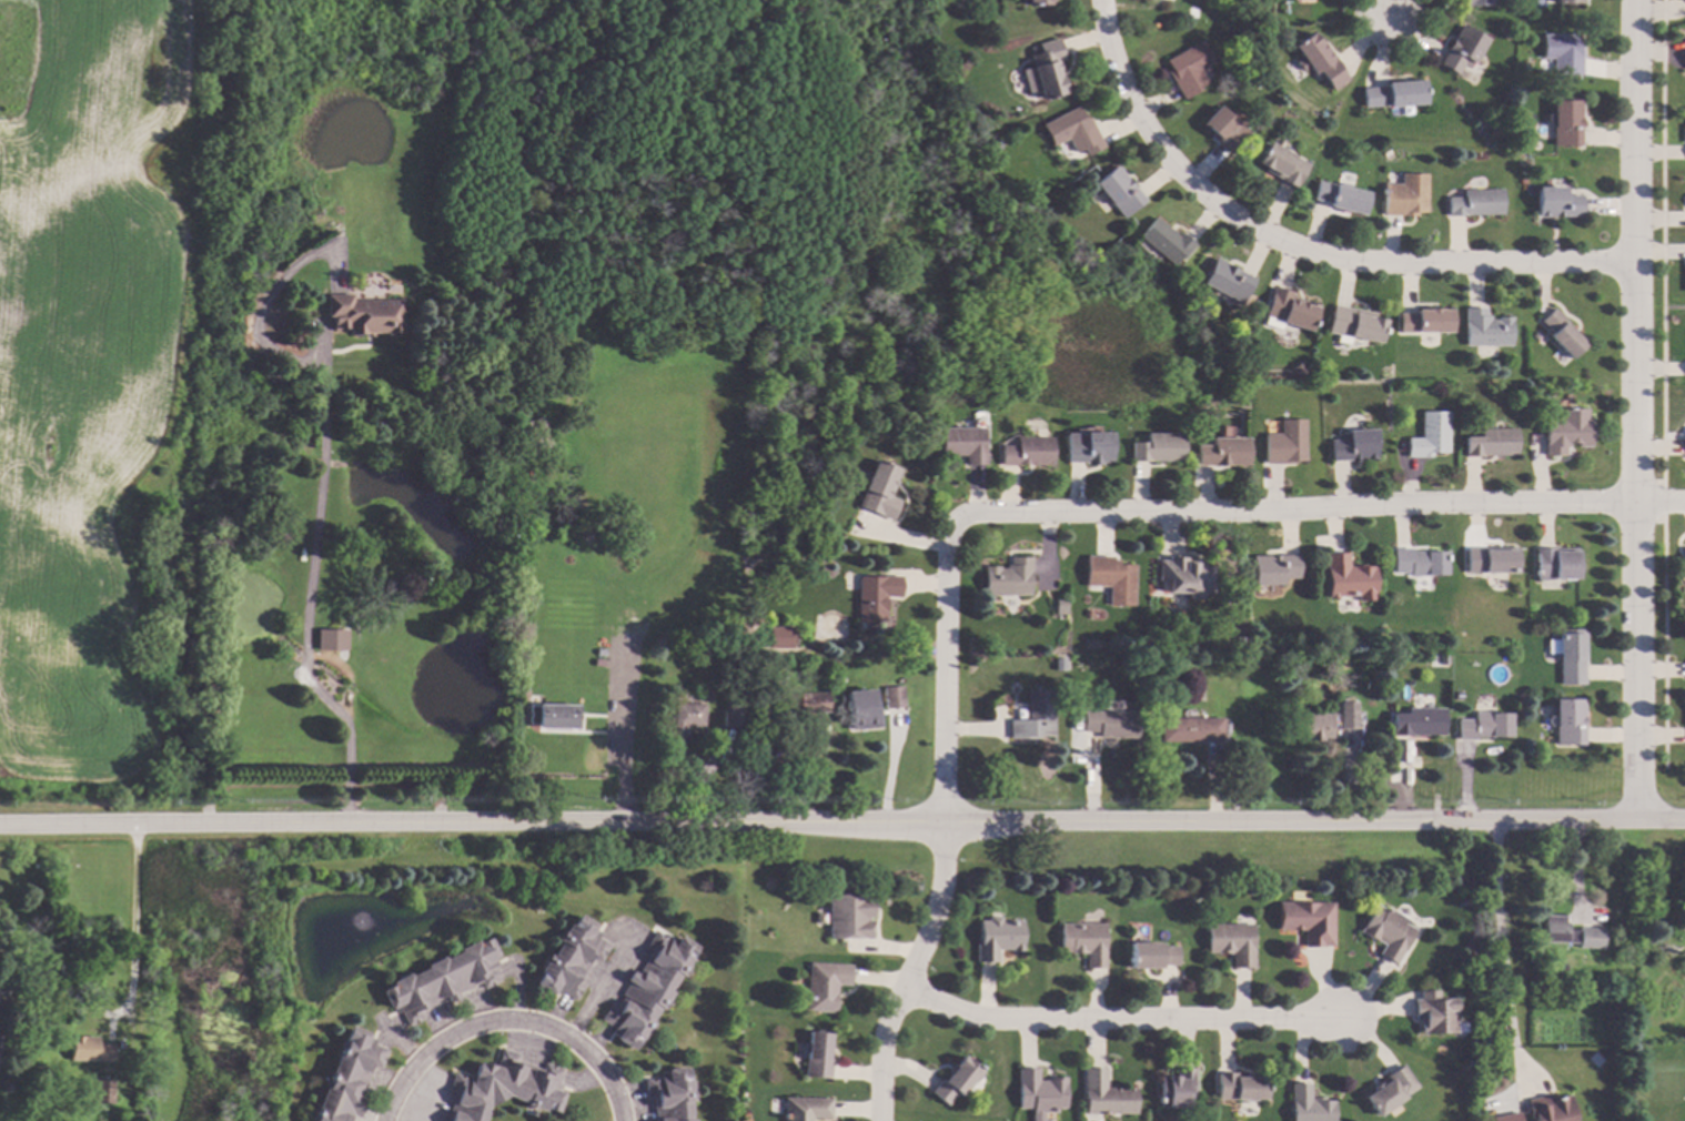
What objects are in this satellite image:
building: (1566, 1)
building: (1036, 2)
building: (1476, 2)
road: (1390, 14)
building: (1461, 49)
building: (1562, 52)
building: (1318, 61)
building: (1047, 69)
building: (1188, 69)
building: (1393, 94)
building: (1565, 122)
building: (1223, 129)
building: (1072, 131)
building: (1281, 165)
building: (1118, 191)
building: (1340, 196)
building: (1404, 196)
building: (1474, 202)
building: (1557, 203)
building: (1163, 241)
road: (1303, 246)
building: (1227, 281)
building: (1289, 310)
building: (363, 315)
building: (1424, 321)
building: (1353, 324)
building: (1485, 329)
building: (1561, 333)
building: (1298, 370)
crop: (82, 380)
road: (1638, 411)
building: (1566, 431)
building: (1429, 435)
building: (1284, 443)
building: (1492, 443)
building: (961, 444)
building: (1353, 445)
building: (1087, 447)
building: (1157, 448)
building: (1026, 452)
building: (1222, 453)
building: (879, 491)
road: (1661, 501)
road: (1299, 507)
building: (281, 537)
building: (1492, 560)
building: (1419, 562)
building: (1684, 563)
building: (1555, 564)
building: (1273, 569)
building: (1185, 576)
building: (1008, 578)
building: (1110, 578)
building: (1349, 578)
building: (874, 596)
building: (756, 598)
road: (309, 606)
building: (1061, 607)
building: (710, 613)
building: (337, 636)
building: (778, 638)
building: (1329, 656)
building: (890, 657)
building: (1571, 657)
building: (1059, 664)
road: (946, 667)
building: (892, 698)
building: (806, 704)
building: (860, 711)
building: (731, 713)
building: (552, 716)
building: (1348, 716)
building: (1035, 717)
building: (684, 719)
building: (1417, 721)
building: (1567, 721)
building: (1111, 724)
building: (1484, 726)
building: (1313, 727)
building: (1190, 729)
road: (620, 757)
road: (843, 826)
building: (849, 916)
building: (1308, 921)
road: (135, 923)
building: (1388, 932)
building: (1571, 933)
building: (998, 938)
building: (1083, 941)
building: (1231, 942)
road: (1496, 951)
building: (1150, 955)
building: (573, 959)
road: (912, 973)
building: (442, 980)
building: (3, 986)
building: (825, 986)
road: (601, 989)
building: (650, 989)
building: (1434, 1013)
road: (1126, 1018)
road: (508, 1022)
building: (0, 1032)
building: (89, 1050)
building: (817, 1054)
building: (10, 1060)
building: (349, 1078)
building: (956, 1081)
building: (504, 1087)
building: (1176, 1088)
building: (1239, 1088)
building: (1390, 1090)
building: (103, 1091)
building: (1039, 1093)
building: (672, 1094)
building: (1104, 1094)
building: (1308, 1105)
building: (806, 1109)
building: (1548, 1109)
building: (1505, 1118)
building: (441, 1120)

